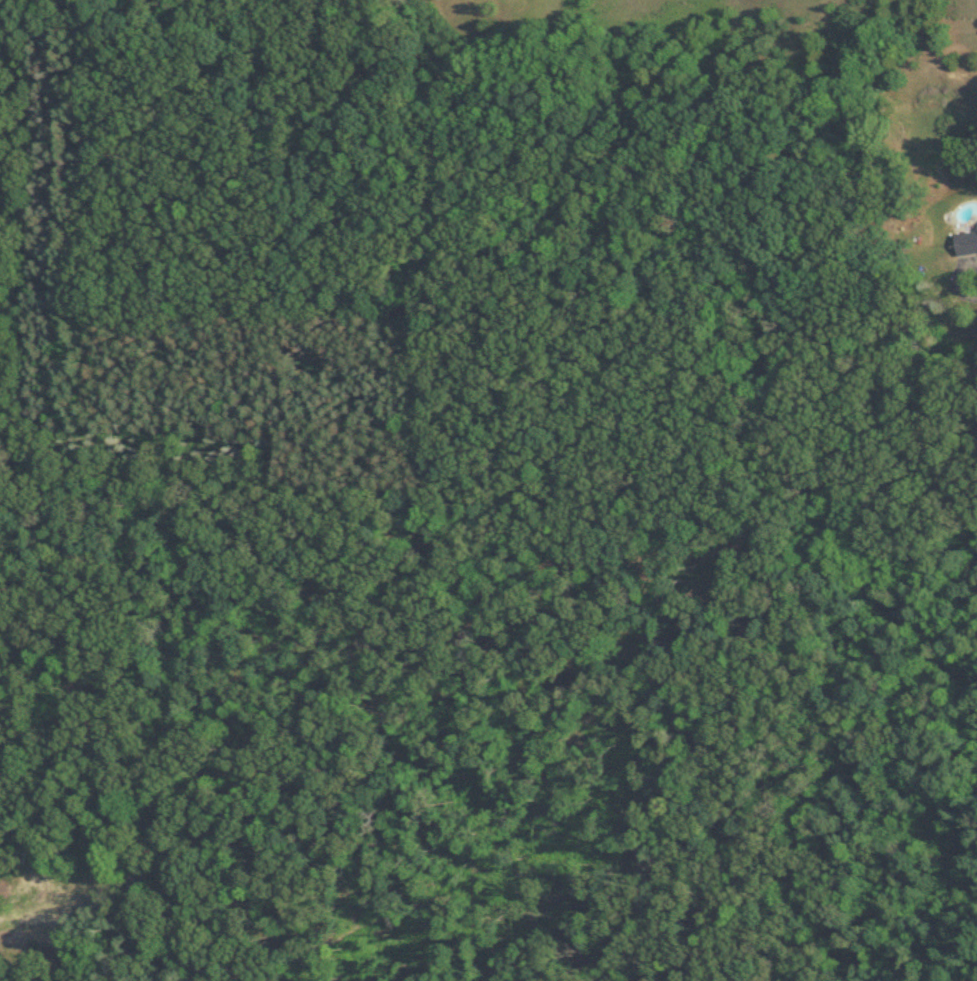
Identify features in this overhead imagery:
building: (468, 0)
building: (967, 244)

